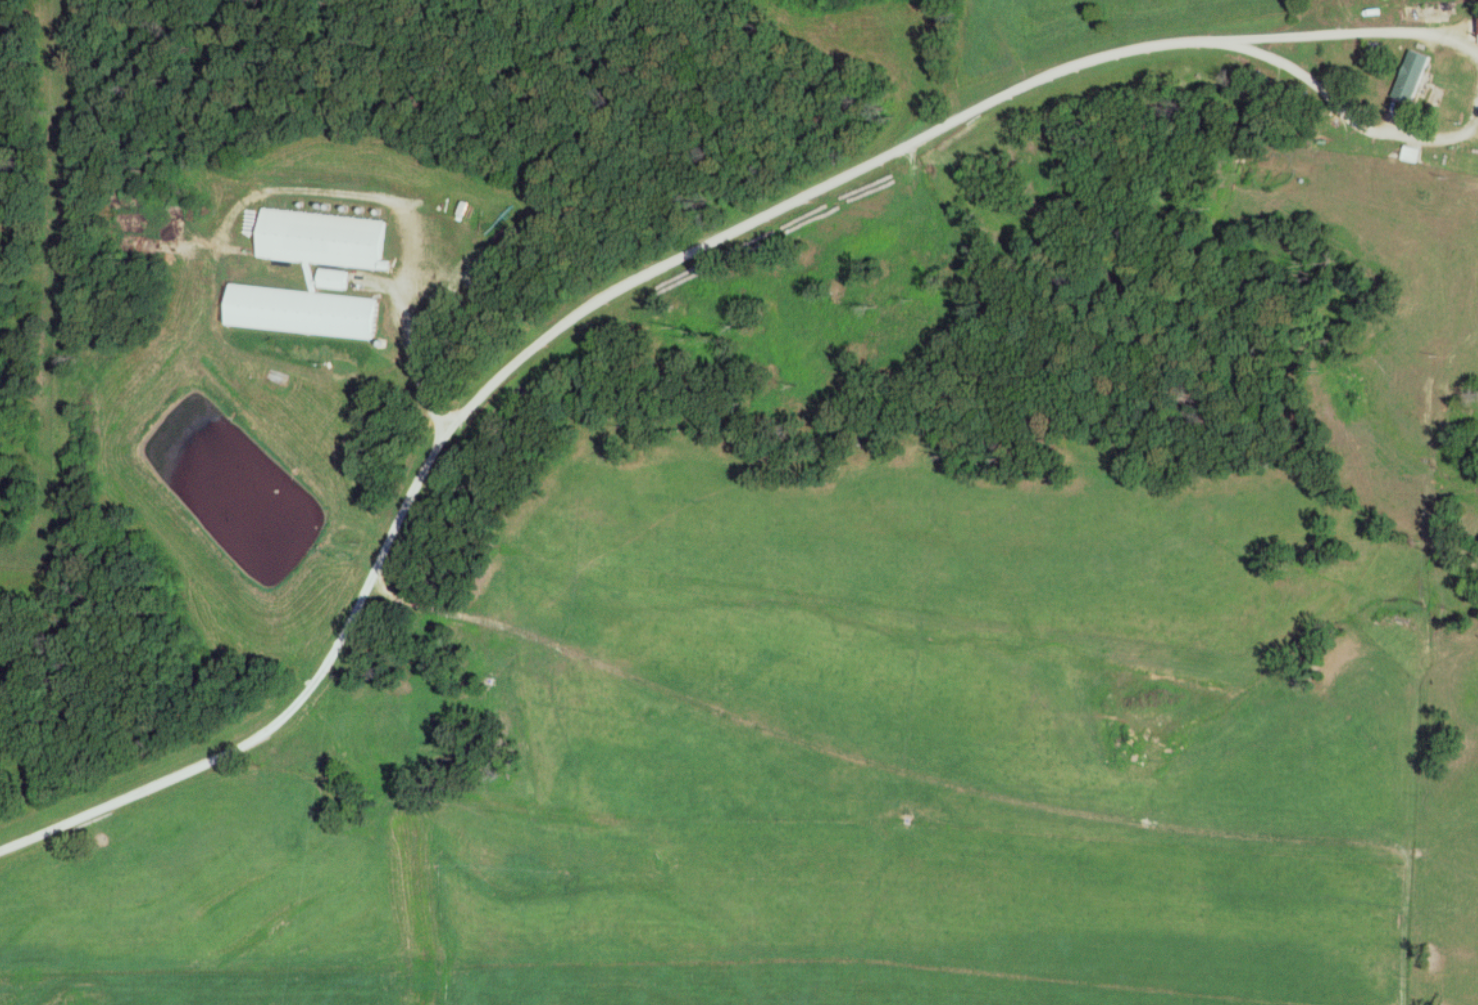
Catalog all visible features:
building: (1376, 6)
building: (1327, 12)
road: (1359, 30)
building: (1410, 77)
road: (1360, 124)
building: (322, 239)
building: (333, 280)
building: (300, 312)
road: (528, 342)

